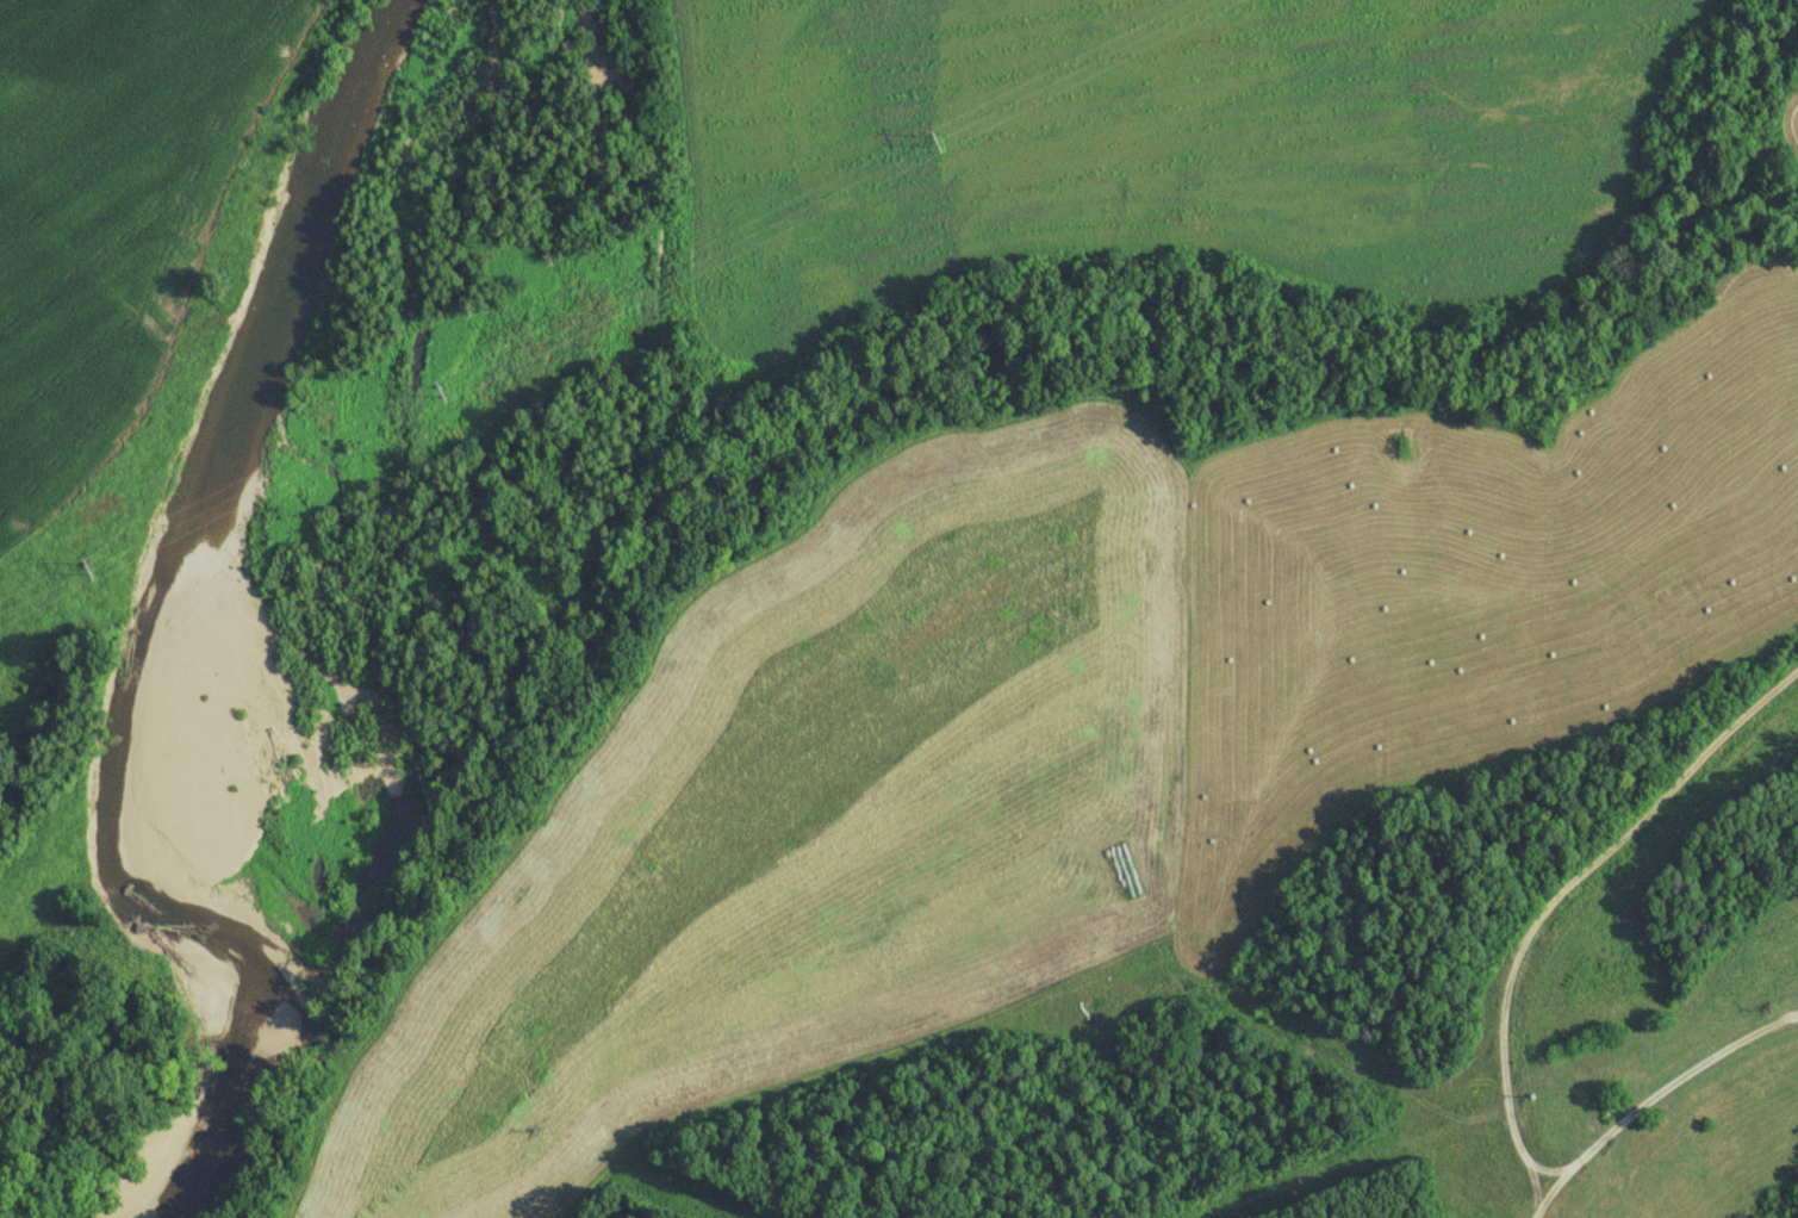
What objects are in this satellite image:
power tower: (934, 142)
power tower: (441, 394)
power tower: (87, 568)
river: (251, 624)
road: (1569, 895)
crop: (17, 957)
road: (1644, 1094)

